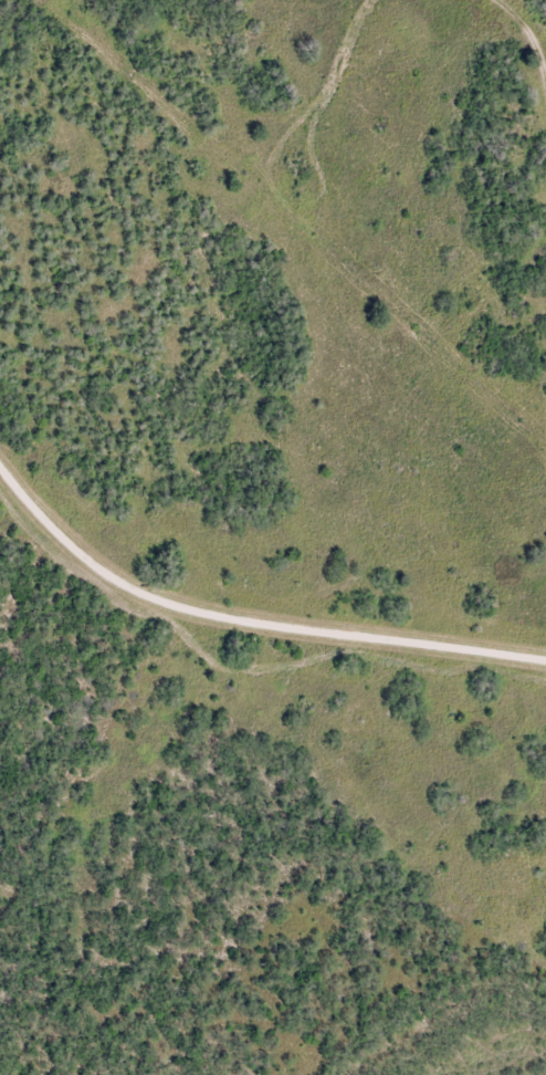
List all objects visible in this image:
road: (261, 561)

